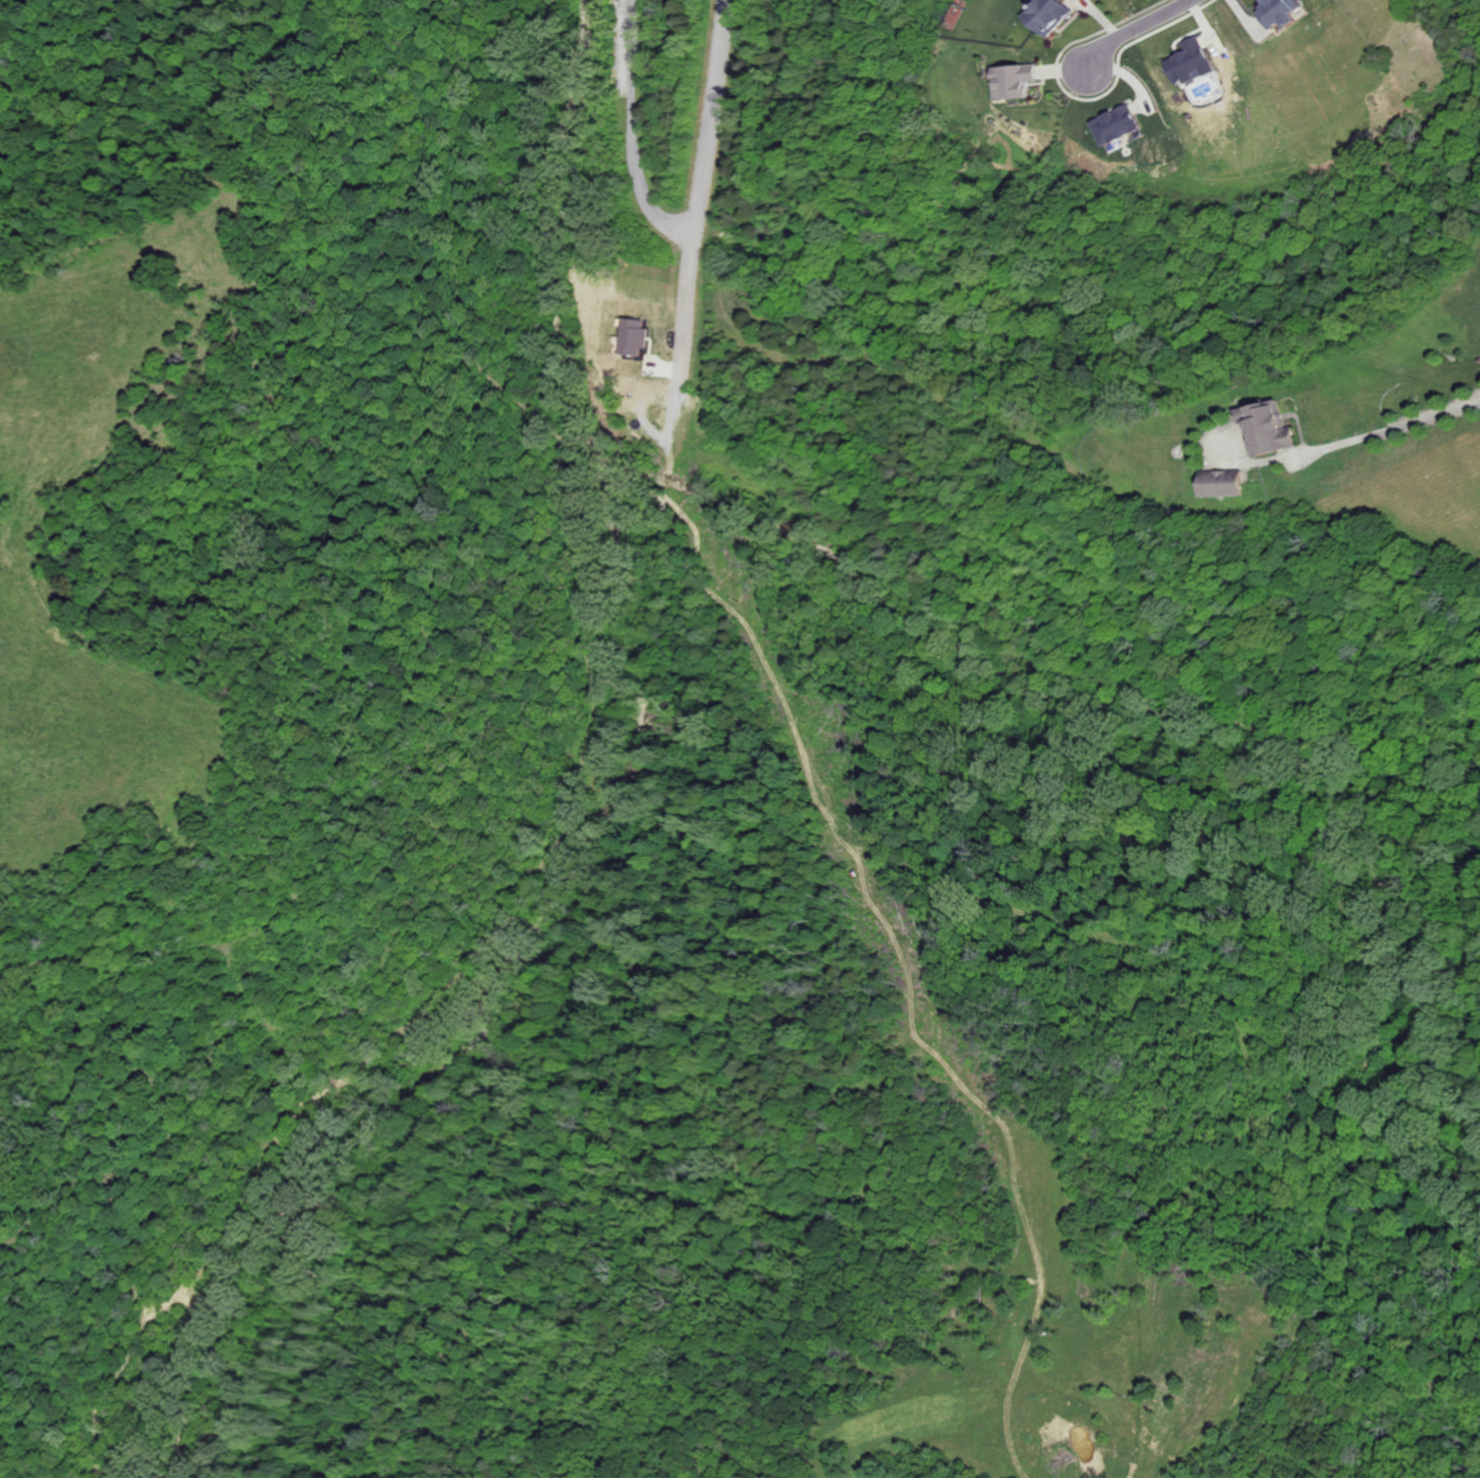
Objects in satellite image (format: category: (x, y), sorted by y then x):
building: (1272, 11)
building: (1044, 15)
road: (1132, 28)
building: (1184, 61)
building: (1011, 80)
building: (1111, 124)
road: (634, 133)
road: (701, 192)
building: (1263, 428)
road: (1353, 440)
building: (1217, 482)
road: (1029, 668)
road: (634, 963)

